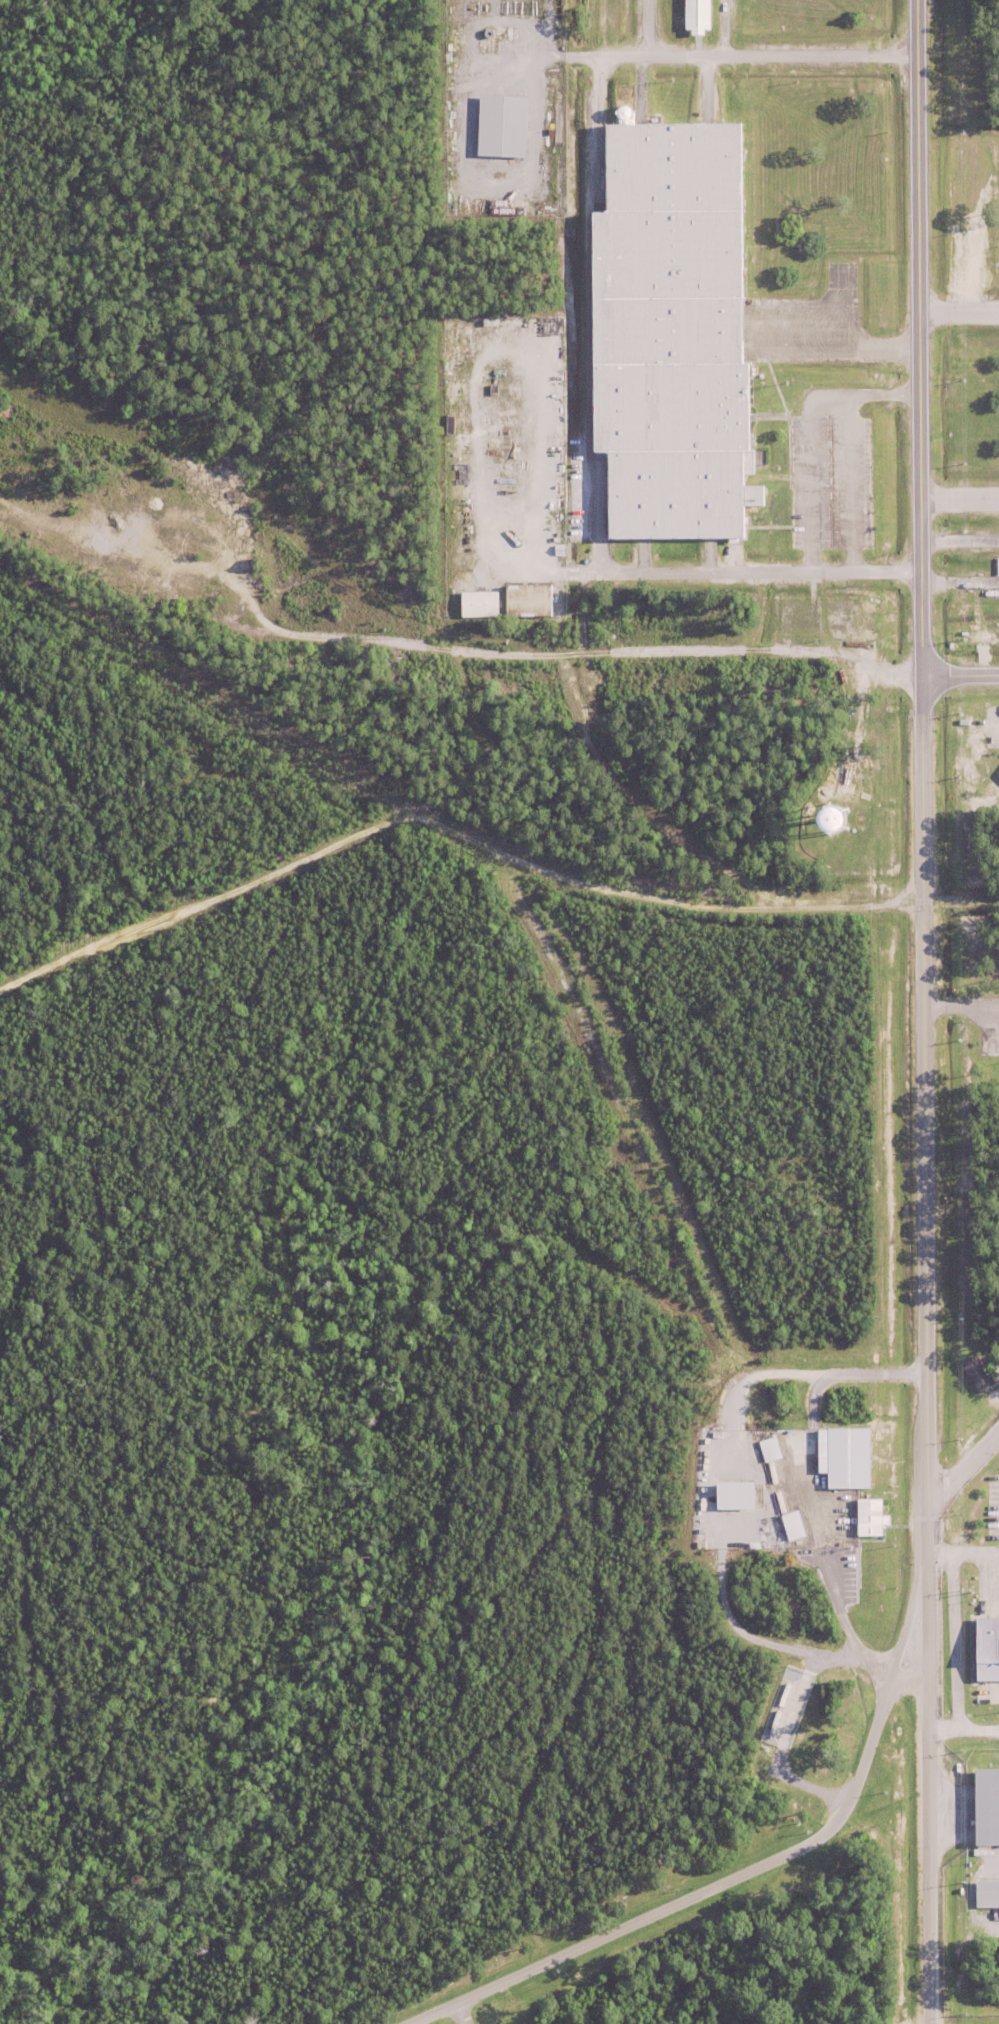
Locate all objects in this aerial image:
building: (693, 16)
road: (751, 54)
road: (560, 56)
building: (620, 113)
building: (499, 125)
road: (957, 310)
building: (668, 336)
road: (862, 394)
road: (808, 483)
road: (958, 498)
building: (70, 501)
road: (753, 572)
building: (527, 600)
building: (477, 605)
road: (440, 648)
road: (958, 674)
water tower: (829, 819)
road: (921, 1012)
building: (998, 1362)
building: (979, 1373)
building: (767, 1448)
building: (842, 1456)
road: (965, 1462)
building: (726, 1494)
building: (867, 1517)
building: (790, 1524)
road: (963, 1555)
road: (840, 1613)
road: (907, 1614)
road: (755, 1639)
building: (985, 1649)
road: (910, 1679)
road: (963, 1731)
building: (985, 1805)
building: (985, 1892)
road: (695, 1895)
road: (460, 2013)

